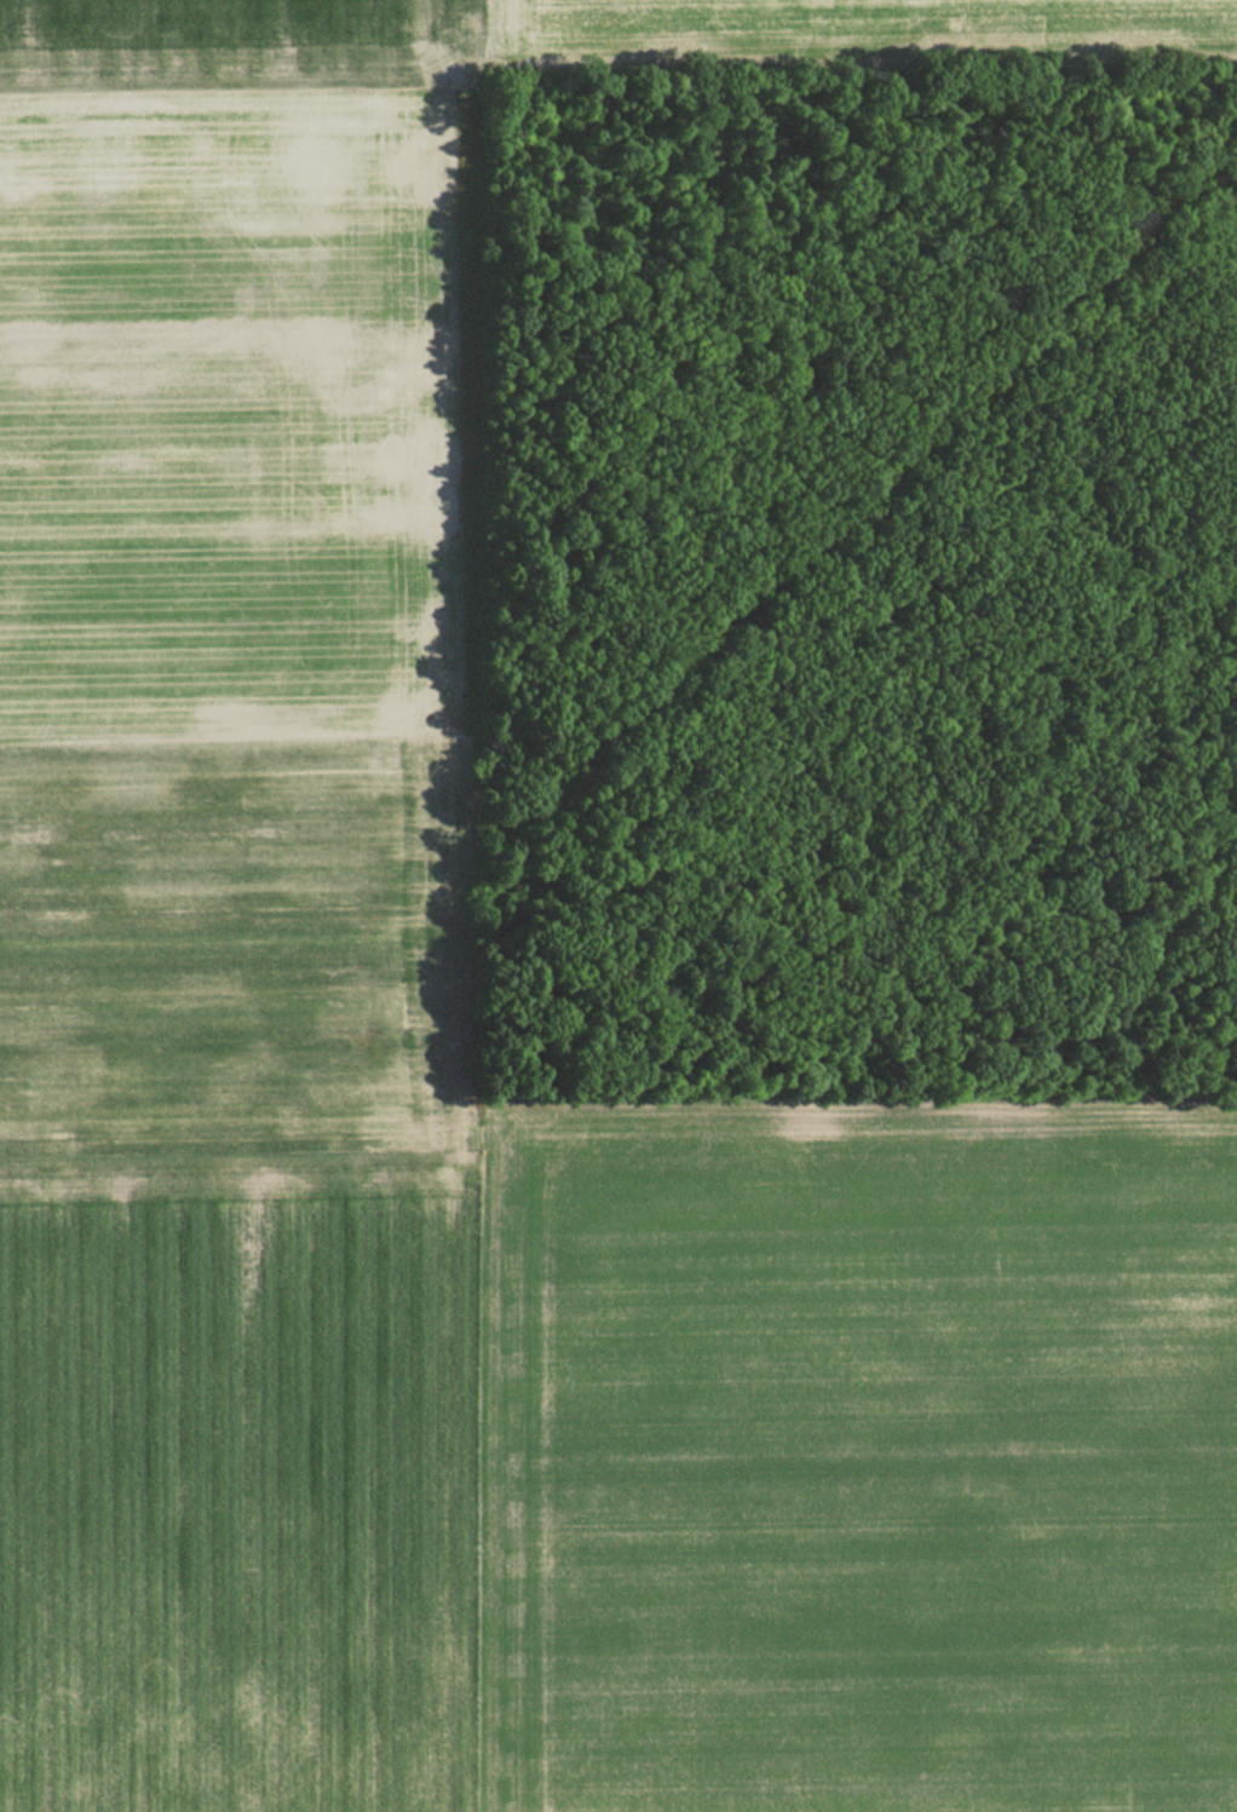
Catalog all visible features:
crop: (847, 28)
crop: (224, 31)
crop: (234, 593)
crop: (855, 1459)
crop: (238, 1465)

